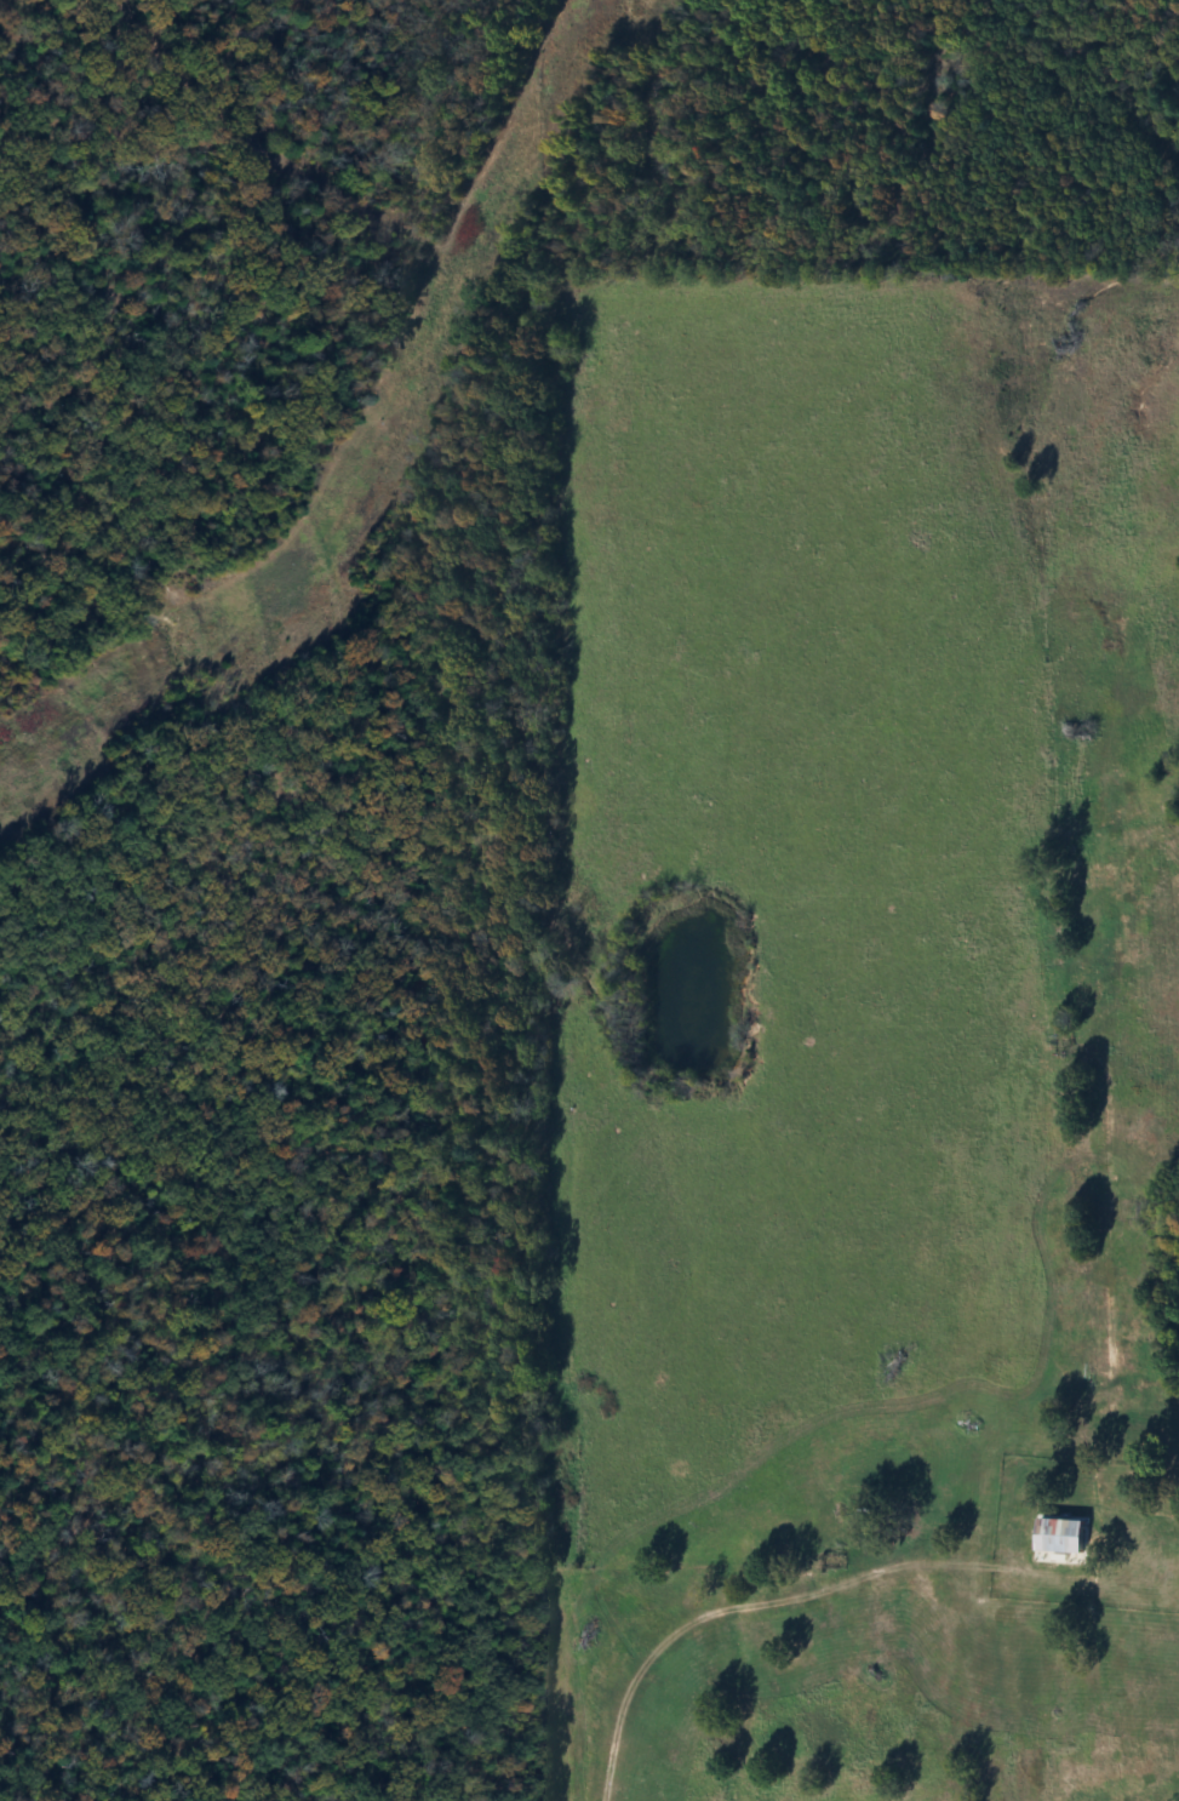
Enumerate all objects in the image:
building: (1060, 1536)

